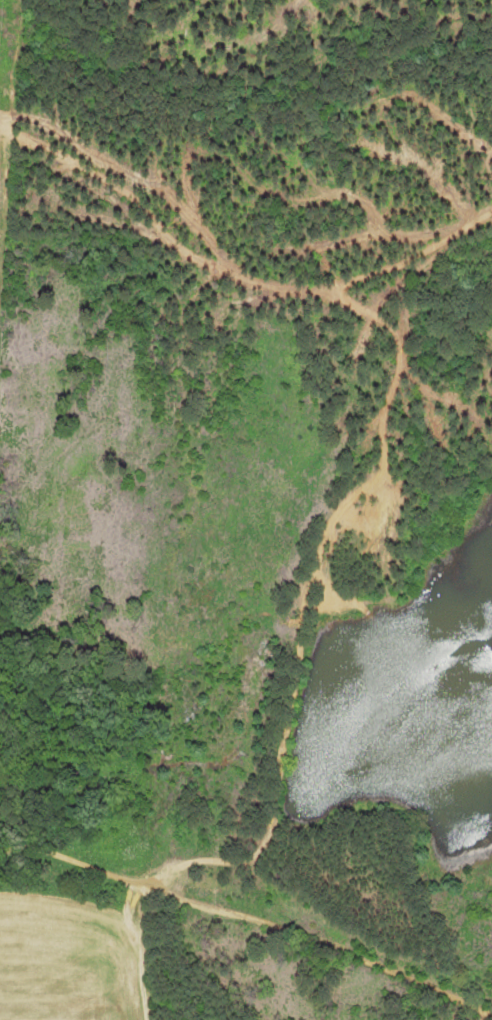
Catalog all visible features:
road: (246, 949)

